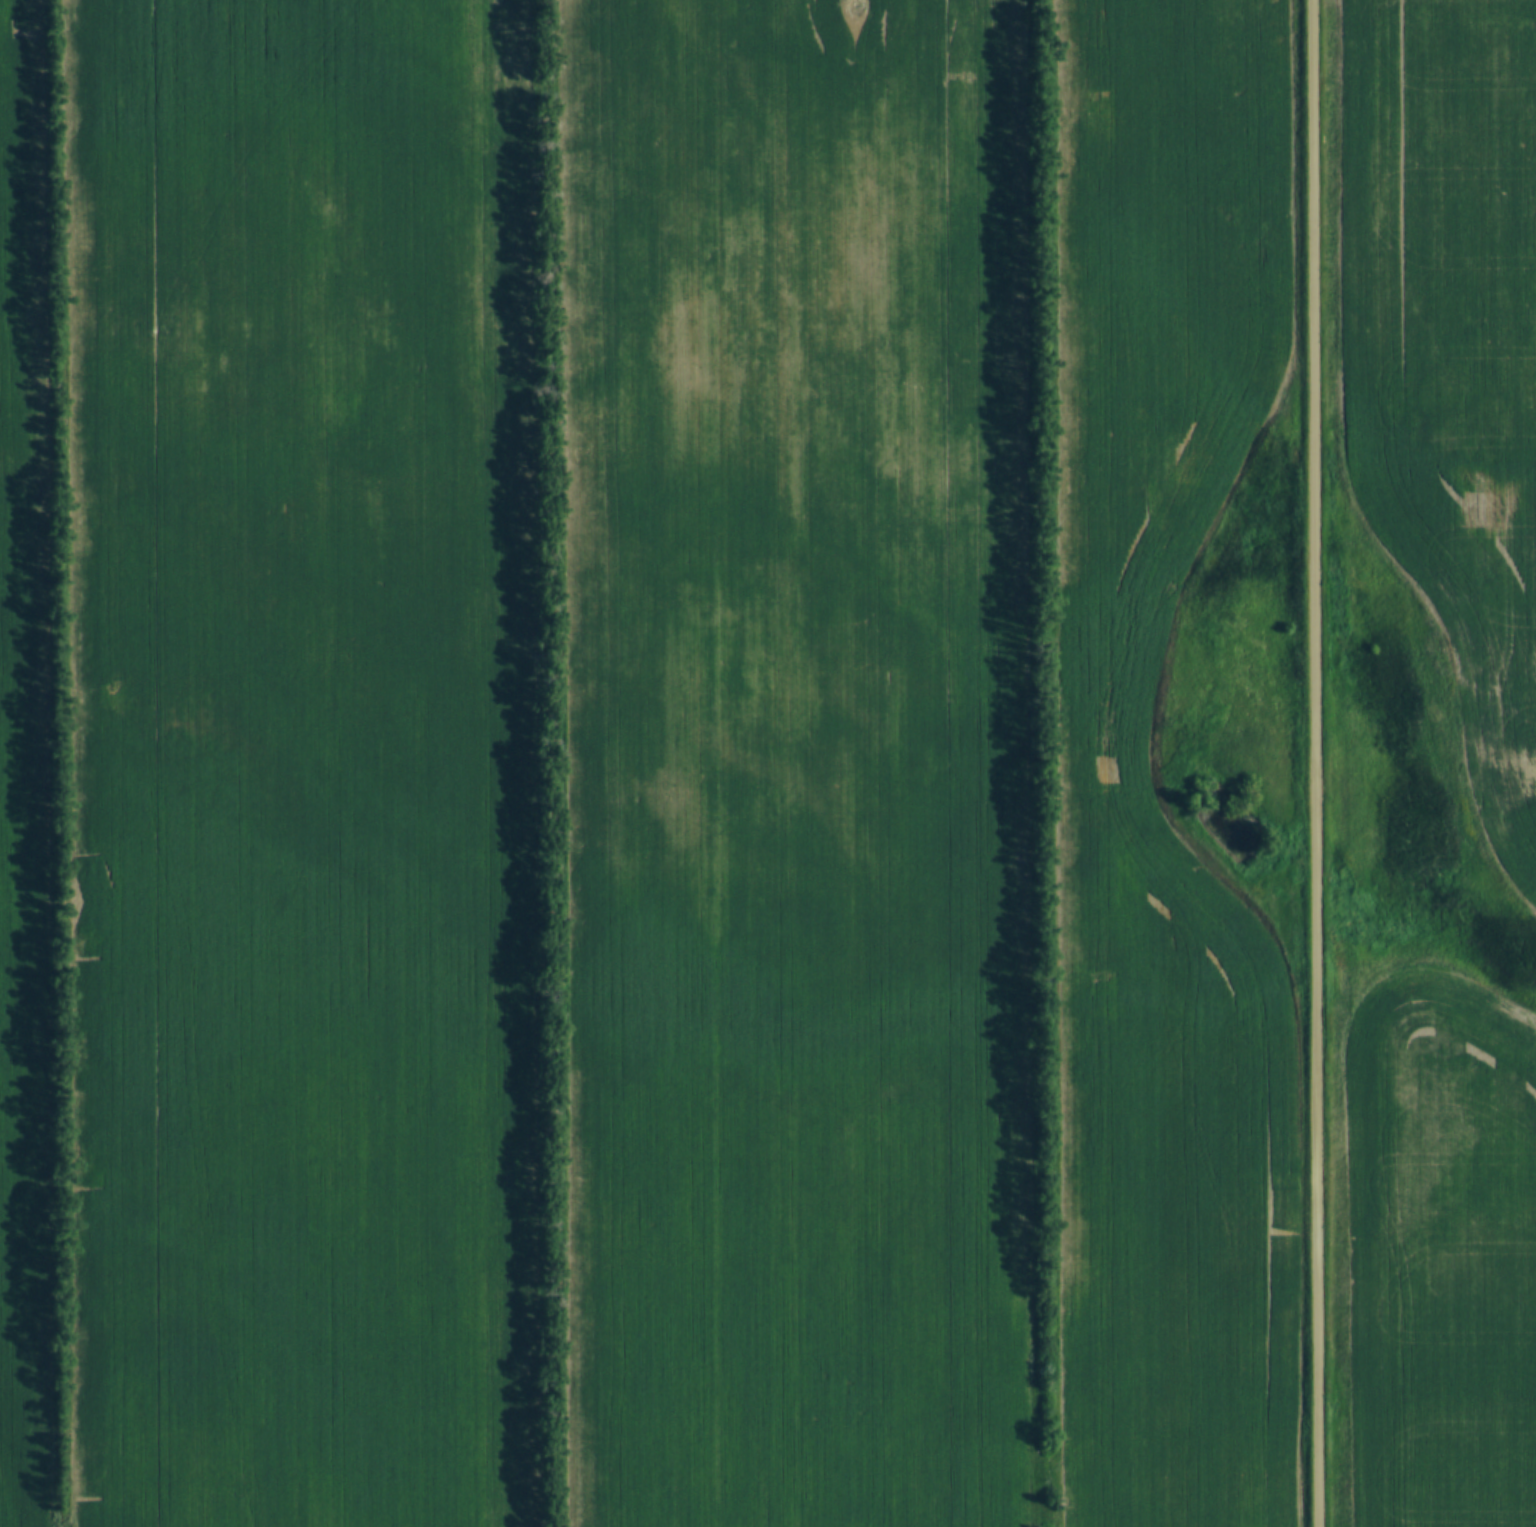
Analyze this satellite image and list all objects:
road: (1313, 763)

